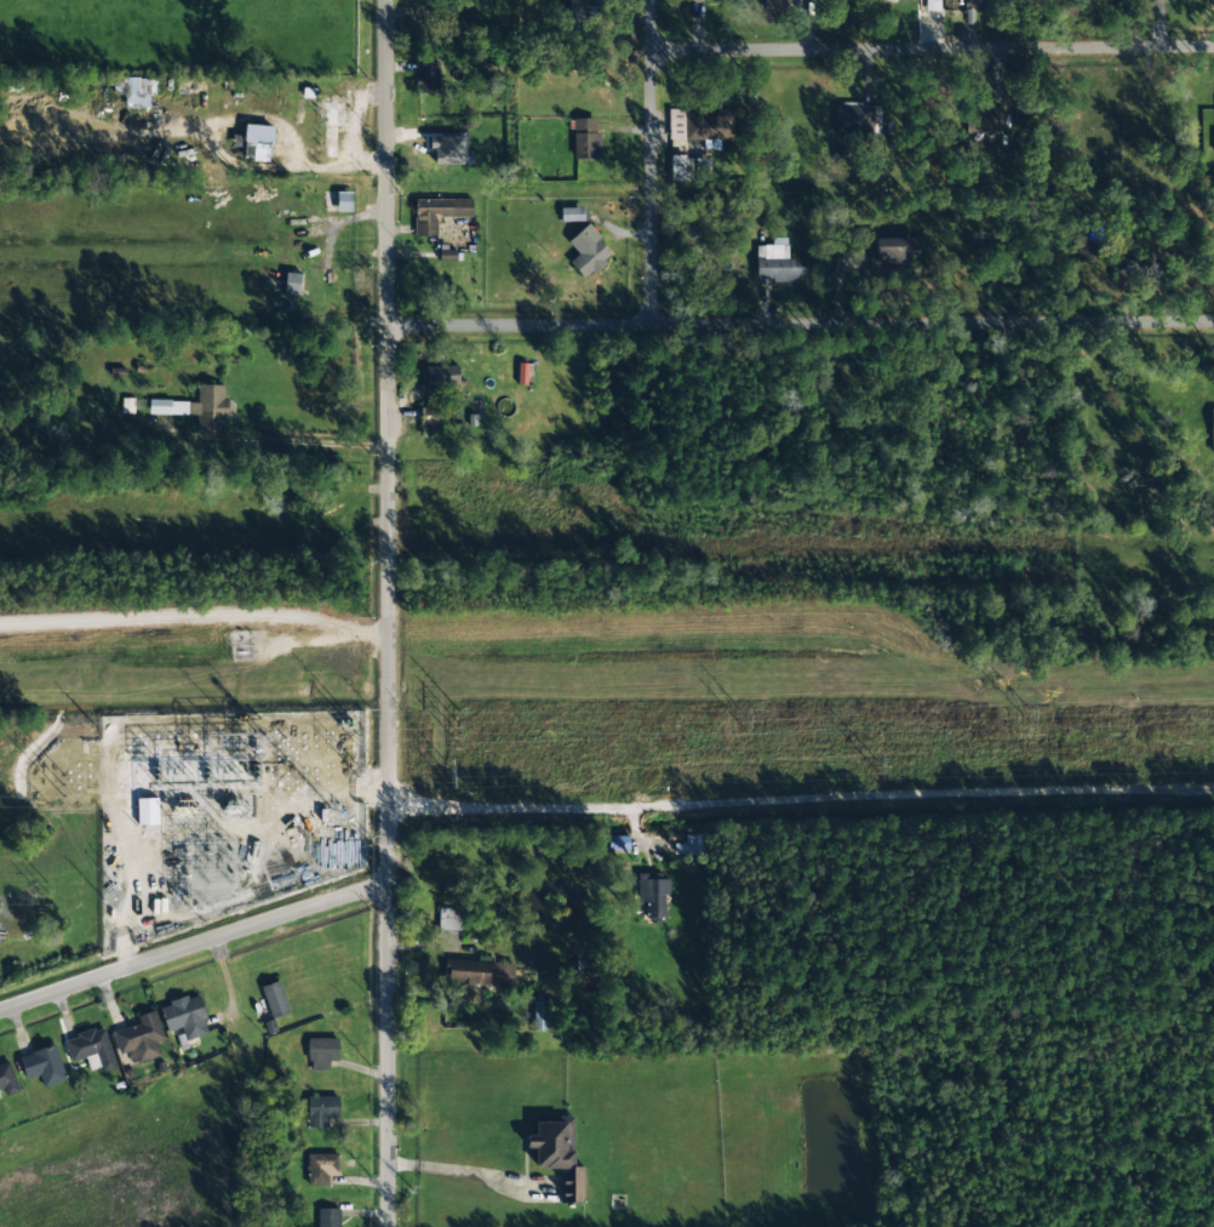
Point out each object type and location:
building: (886, 0)
building: (974, 4)
building: (933, 5)
road: (932, 48)
building: (428, 76)
building: (141, 92)
building: (855, 118)
building: (984, 119)
building: (710, 124)
building: (1213, 133)
building: (585, 138)
building: (257, 142)
building: (433, 152)
road: (651, 161)
building: (680, 167)
building: (702, 169)
building: (344, 201)
building: (437, 213)
building: (572, 215)
building: (589, 249)
building: (894, 251)
building: (778, 263)
building: (293, 284)
road: (800, 321)
building: (521, 373)
building: (440, 378)
building: (197, 407)
building: (431, 421)
building: (1212, 429)
road: (388, 439)
road: (801, 800)
building: (147, 811)
power substation: (224, 814)
power tower: (99, 837)
building: (688, 845)
building: (651, 895)
building: (449, 918)
road: (194, 946)
building: (479, 974)
building: (275, 999)
building: (540, 1016)
building: (185, 1017)
building: (139, 1038)
building: (91, 1049)
building: (321, 1052)
road: (388, 1054)
building: (42, 1066)
building: (7, 1079)
building: (321, 1111)
building: (557, 1155)
building: (320, 1169)
building: (328, 1217)

